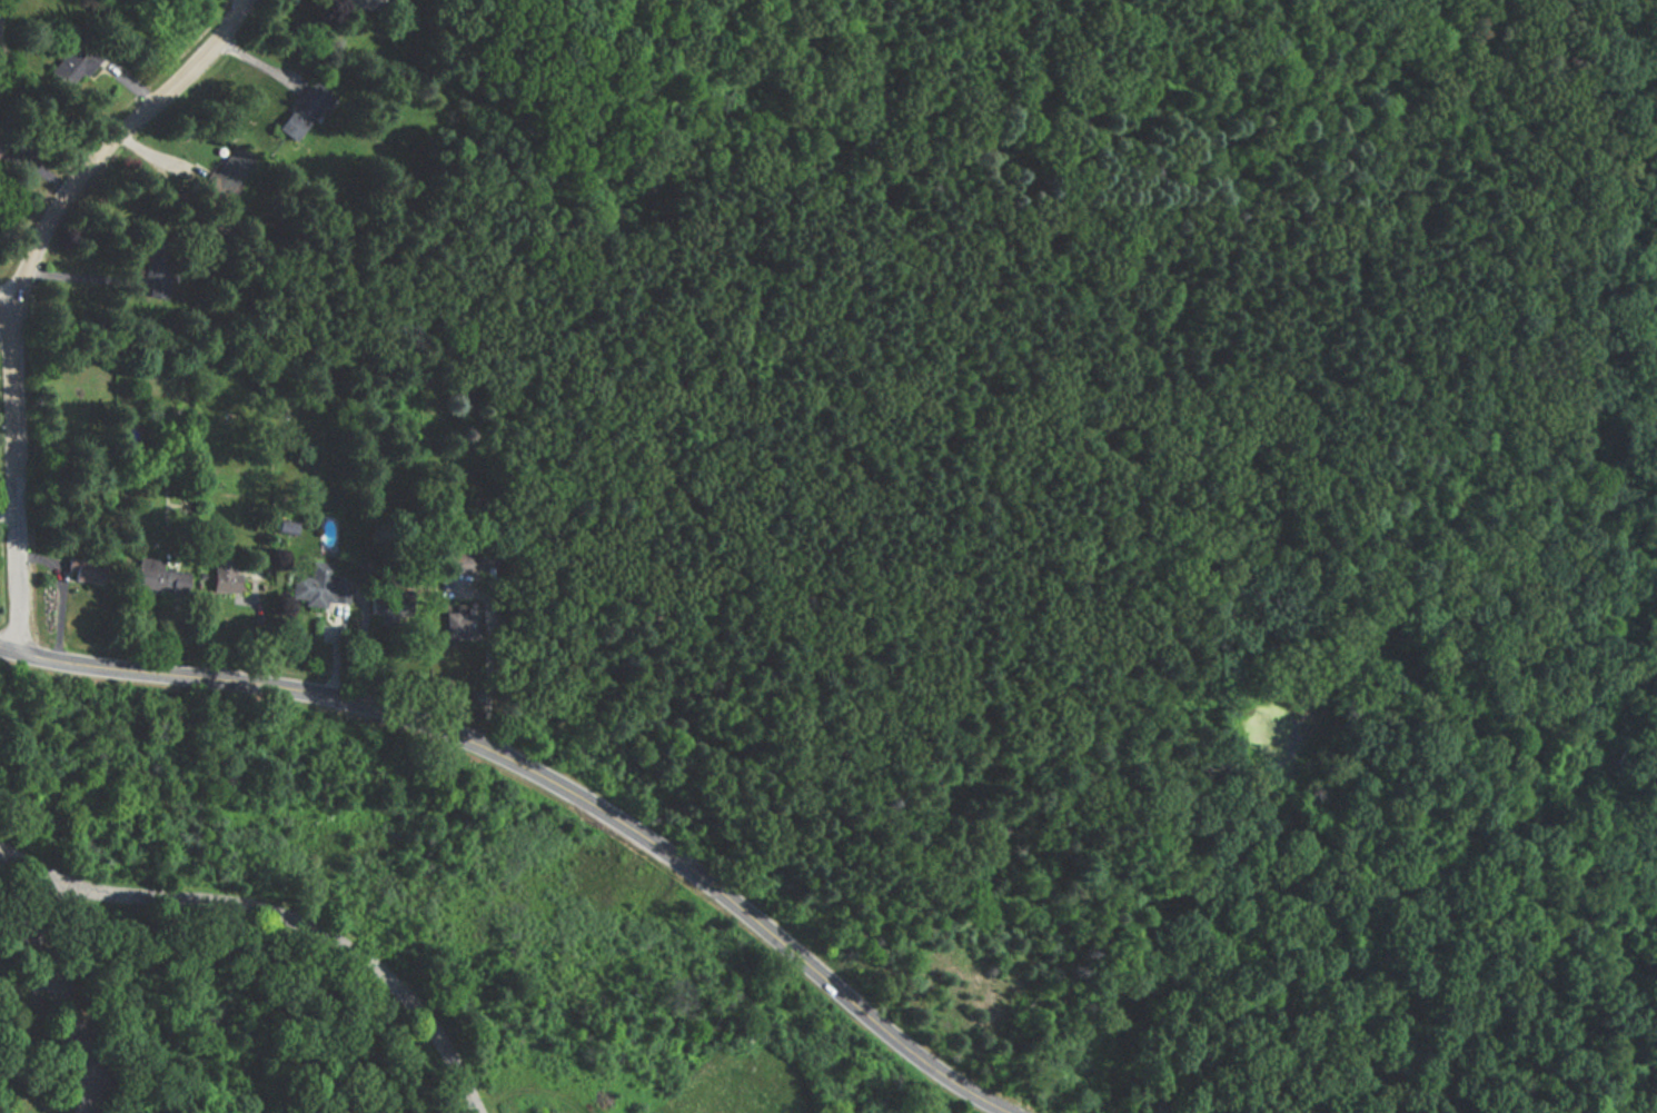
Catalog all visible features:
building: (360, 6)
road: (258, 64)
building: (73, 66)
building: (302, 110)
building: (0, 136)
road: (107, 146)
road: (153, 156)
building: (229, 171)
building: (156, 267)
road: (81, 279)
road: (3, 312)
road: (13, 484)
building: (285, 527)
building: (485, 555)
road: (43, 563)
building: (454, 563)
building: (85, 570)
building: (365, 573)
building: (224, 576)
building: (156, 577)
building: (319, 586)
road: (464, 586)
road: (242, 602)
building: (388, 606)
road: (186, 618)
building: (458, 624)
road: (258, 626)
road: (171, 635)
road: (327, 636)
road: (360, 646)
road: (333, 650)
road: (484, 657)
road: (549, 777)
road: (4, 851)
road: (4, 853)
road: (1143, 876)
road: (284, 916)
road: (16, 927)
park: (367, 931)
road: (57, 996)
parking lot: (71, 1034)
road: (526, 1089)

